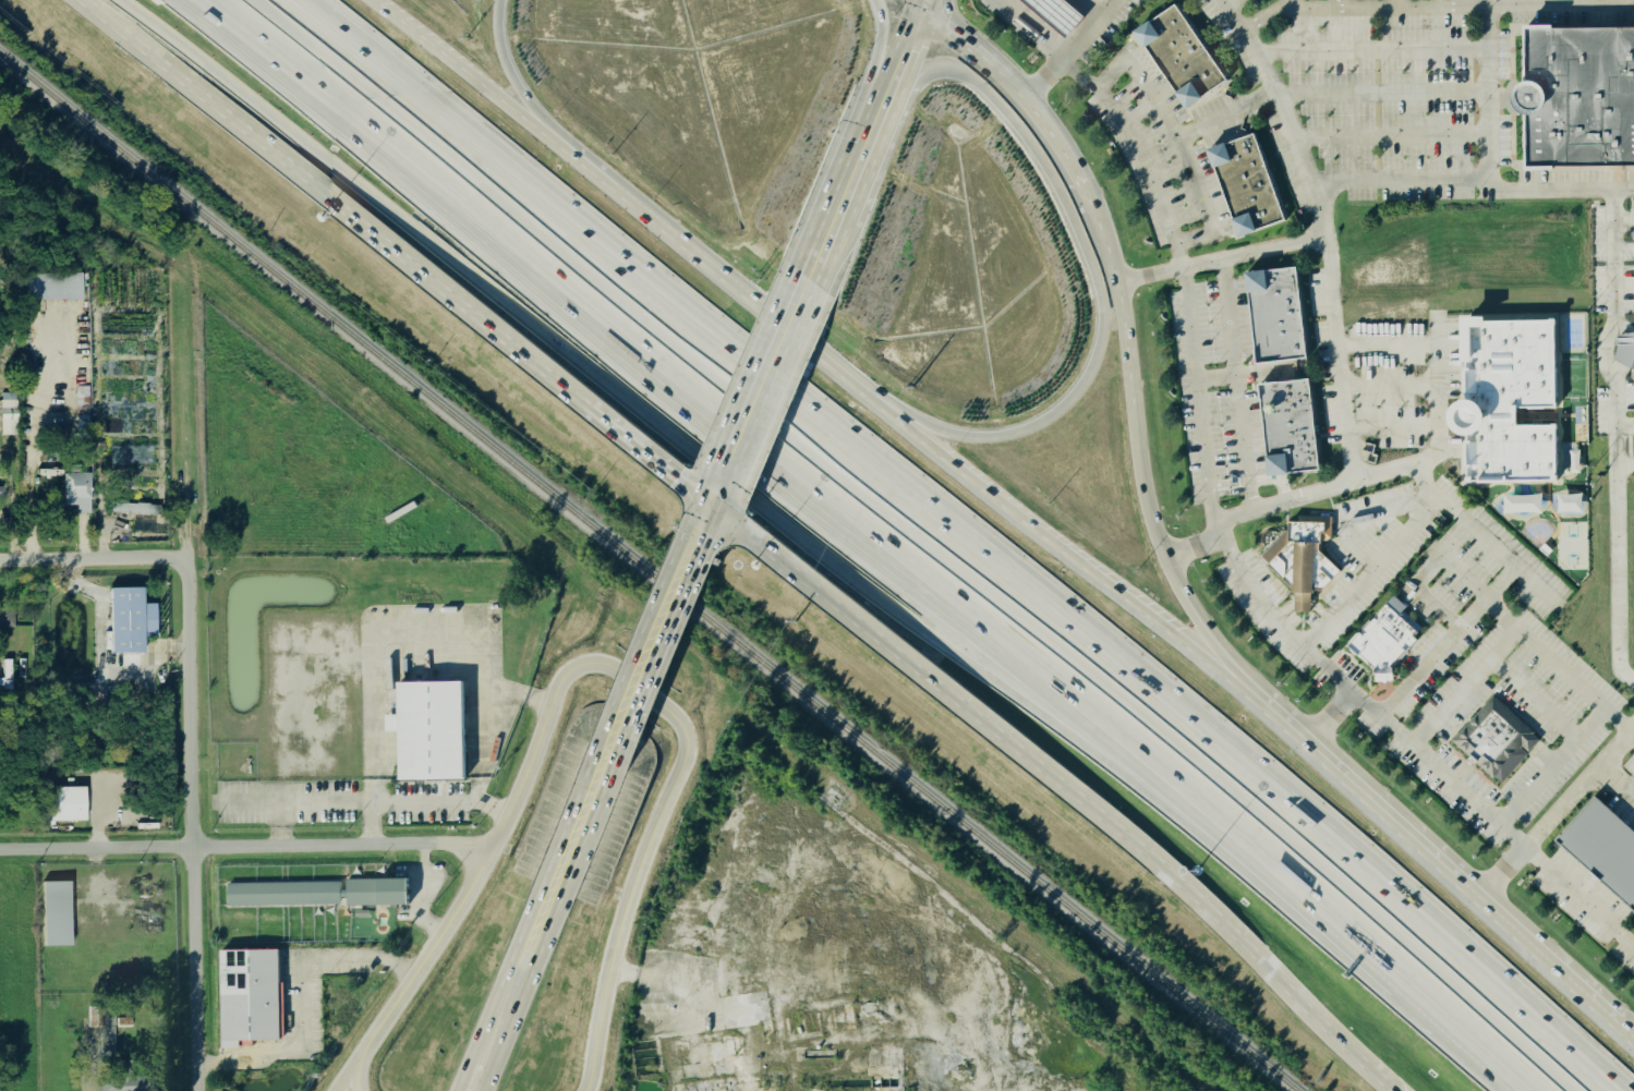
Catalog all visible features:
road: (1569, 2)
road: (915, 3)
road: (919, 3)
road: (923, 3)
road: (1227, 3)
road: (1335, 3)
road: (1387, 3)
road: (1285, 4)
traffic signals: (919, 7)
road: (1093, 7)
road: (1430, 7)
road: (97, 9)
building: (1051, 15)
road: (1028, 29)
road: (1086, 29)
road: (138, 43)
road: (1370, 51)
building: (1176, 57)
road: (876, 58)
road: (896, 62)
road: (1042, 80)
road: (493, 89)
road: (1487, 92)
road: (1381, 94)
building: (1575, 98)
road: (1024, 100)
road: (529, 101)
road: (422, 108)
road: (1226, 116)
road: (869, 128)
road: (1173, 131)
road: (1389, 137)
road: (1142, 163)
road: (1473, 180)
road: (846, 183)
building: (1242, 186)
road: (476, 214)
road: (377, 240)
road: (818, 251)
road: (1088, 259)
road: (1221, 259)
building: (55, 288)
road: (1117, 288)
road: (745, 295)
road: (667, 299)
building: (1272, 317)
building: (1627, 350)
road: (1215, 378)
park: (1573, 378)
road: (761, 384)
road: (1235, 386)
road: (1199, 393)
building: (1516, 398)
building: (84, 401)
building: (11, 415)
building: (1285, 429)
road: (1613, 438)
road: (36, 447)
road: (1349, 447)
road: (649, 459)
building: (44, 483)
building: (80, 493)
building: (3, 494)
road: (752, 496)
road: (711, 501)
building: (1575, 504)
building: (1528, 505)
traffic signals: (709, 508)
building: (138, 509)
building: (400, 512)
road: (1247, 513)
road: (703, 521)
road: (1159, 542)
road: (1070, 554)
road: (96, 556)
building: (1300, 556)
road: (1432, 572)
road: (1372, 573)
railway: (647, 574)
railway: (604, 608)
building: (125, 621)
building: (1390, 642)
road: (377, 643)
road: (652, 645)
road: (1431, 657)
road: (589, 667)
road: (1463, 687)
road: (1080, 699)
road: (1534, 699)
road: (965, 708)
road: (1330, 719)
road: (1633, 722)
road: (1195, 729)
building: (435, 731)
building: (1488, 739)
road: (486, 744)
road: (1416, 752)
road: (1553, 765)
road: (601, 774)
road: (373, 801)
building: (73, 805)
road: (1556, 810)
road: (101, 813)
road: (191, 825)
road: (247, 846)
building: (1602, 848)
road: (1444, 865)
road: (561, 868)
building: (377, 892)
building: (283, 895)
building: (362, 913)
building: (58, 914)
road: (520, 950)
road: (531, 955)
road: (675, 986)
road: (299, 996)
building: (254, 997)
road: (1307, 1003)
road: (491, 1010)
road: (507, 1028)
road: (1469, 1032)
building: (735, 1048)
road: (348, 1076)
road: (463, 1077)
building: (128, 1083)

